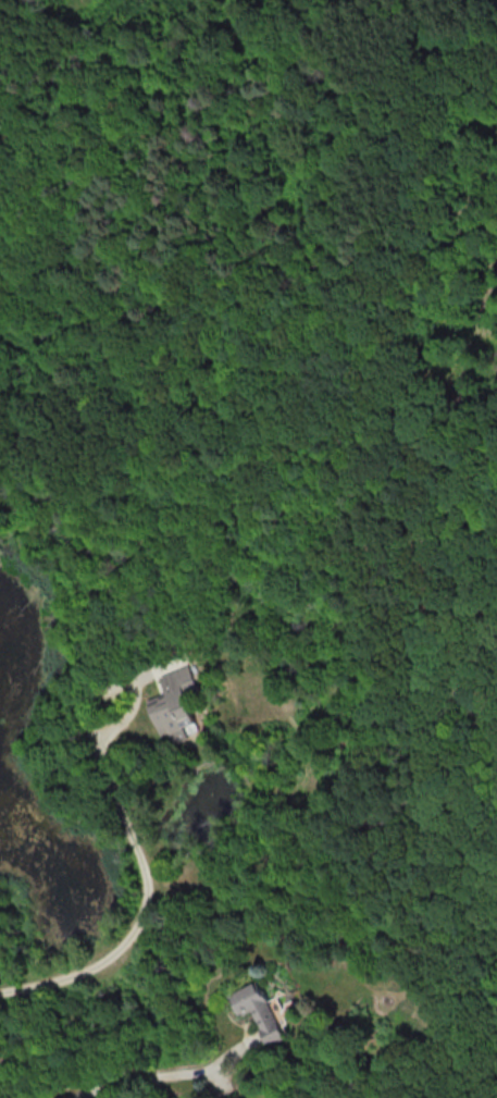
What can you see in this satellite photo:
road: (121, 681)
building: (174, 704)
road: (142, 909)
building: (259, 1011)
road: (160, 1075)

